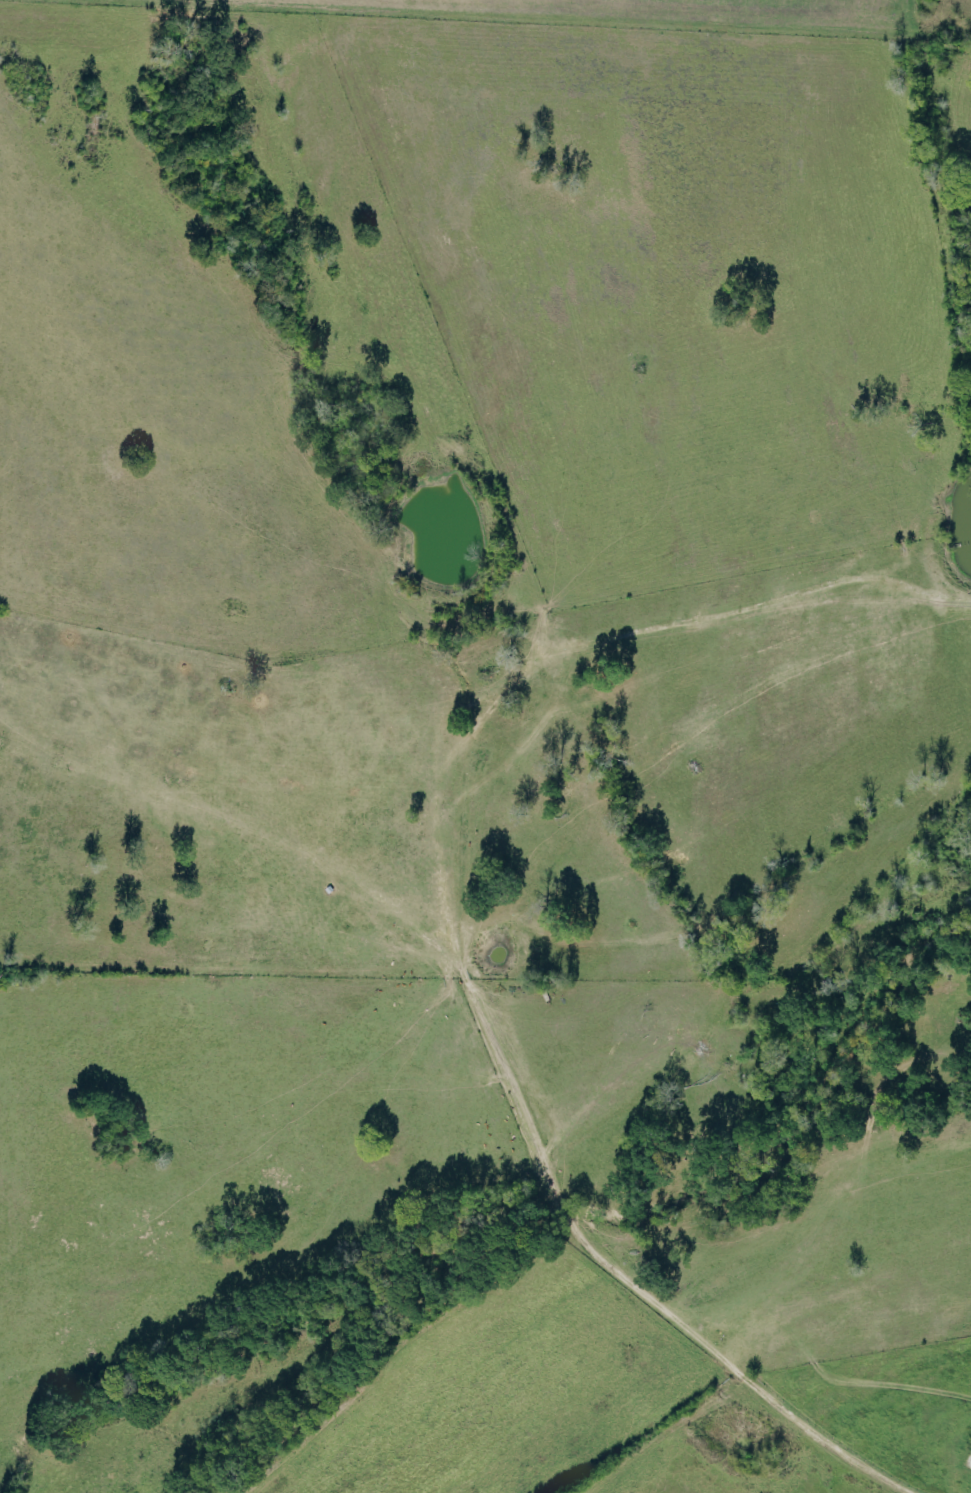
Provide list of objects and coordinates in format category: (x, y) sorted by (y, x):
road: (928, 1461)

